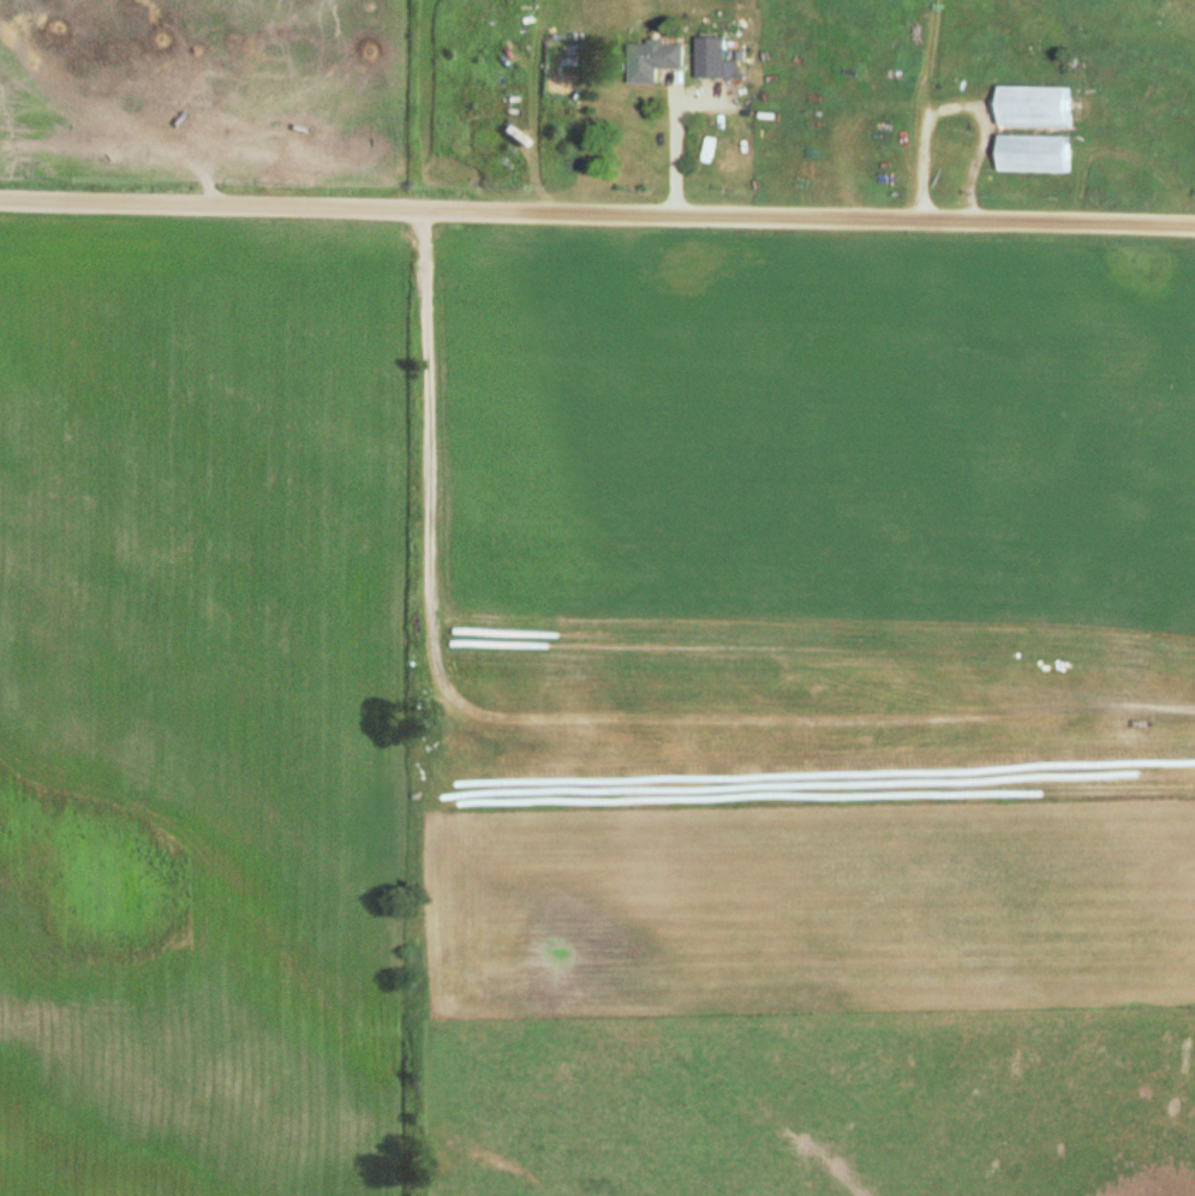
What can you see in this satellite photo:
building: (713, 58)
building: (655, 61)
road: (948, 106)
building: (1038, 107)
road: (895, 114)
road: (664, 145)
building: (1038, 155)
road: (597, 221)
road: (1194, 226)
road: (1130, 796)

